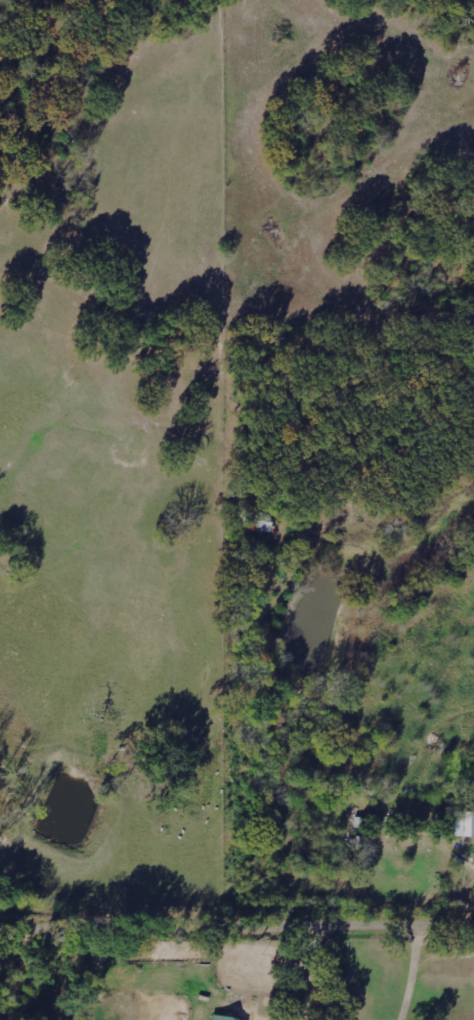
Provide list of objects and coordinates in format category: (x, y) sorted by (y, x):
building: (261, 526)
road: (428, 607)
building: (462, 823)
road: (237, 928)
building: (224, 1018)

